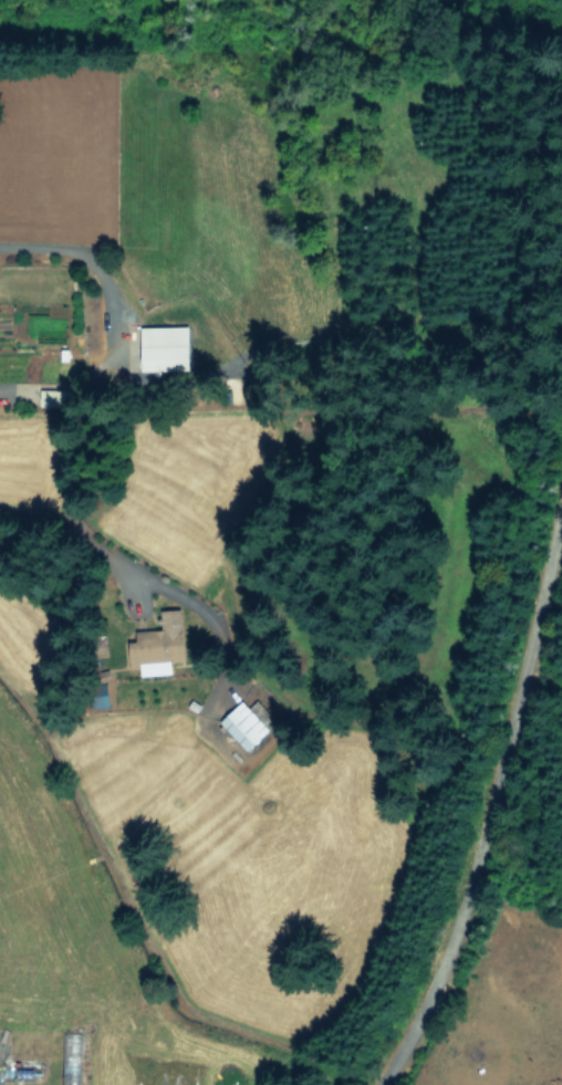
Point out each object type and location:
road: (89, 263)
building: (167, 346)
road: (66, 533)
building: (159, 644)
road: (500, 727)

